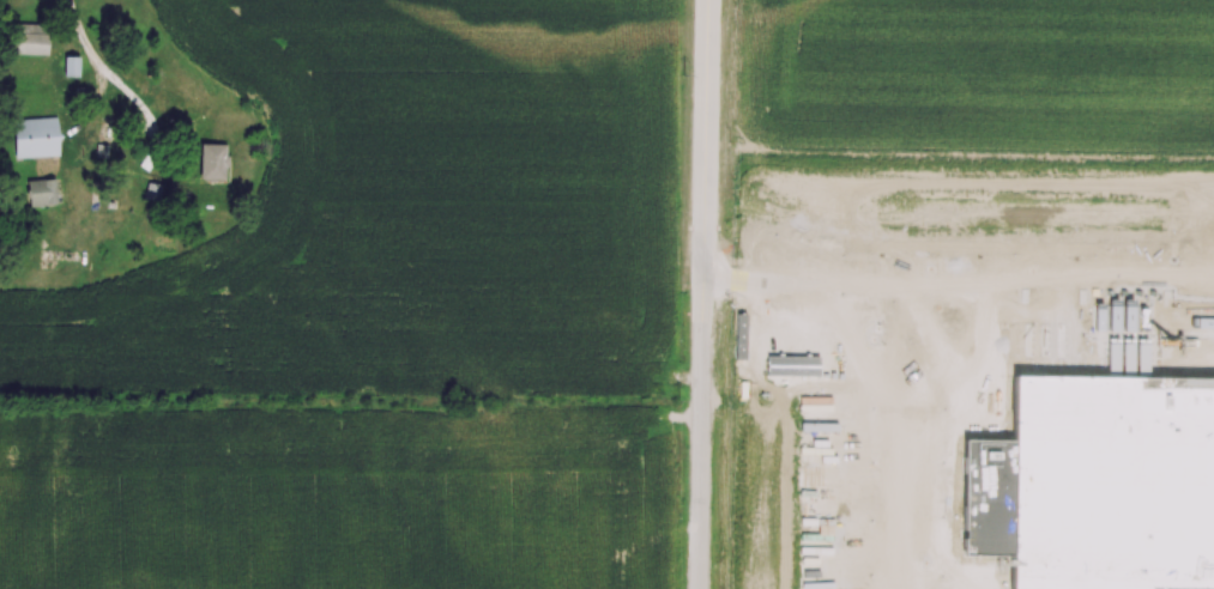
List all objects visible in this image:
building: (30, 40)
building: (72, 66)
road: (107, 71)
building: (36, 138)
building: (213, 162)
building: (42, 193)
road: (705, 293)
crop: (378, 322)

